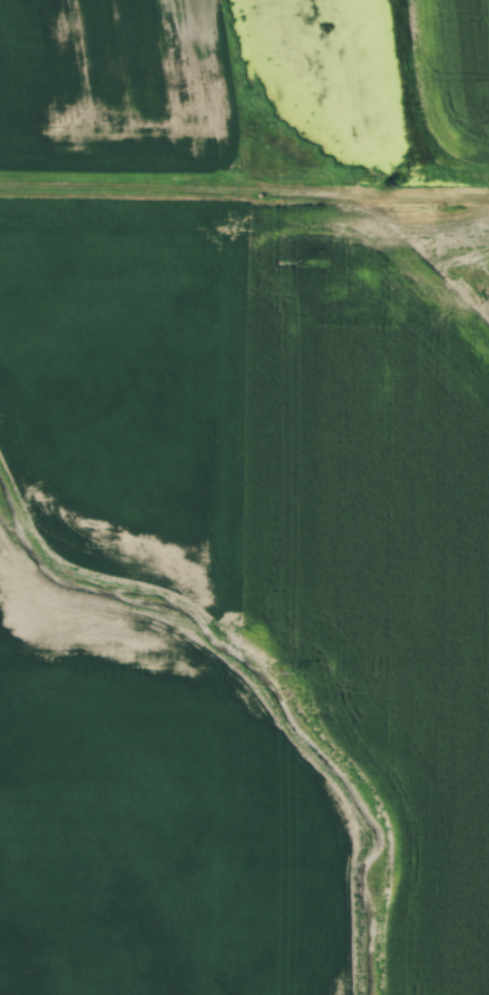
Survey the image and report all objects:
road: (244, 195)
power tower: (298, 263)
power tower: (296, 673)

